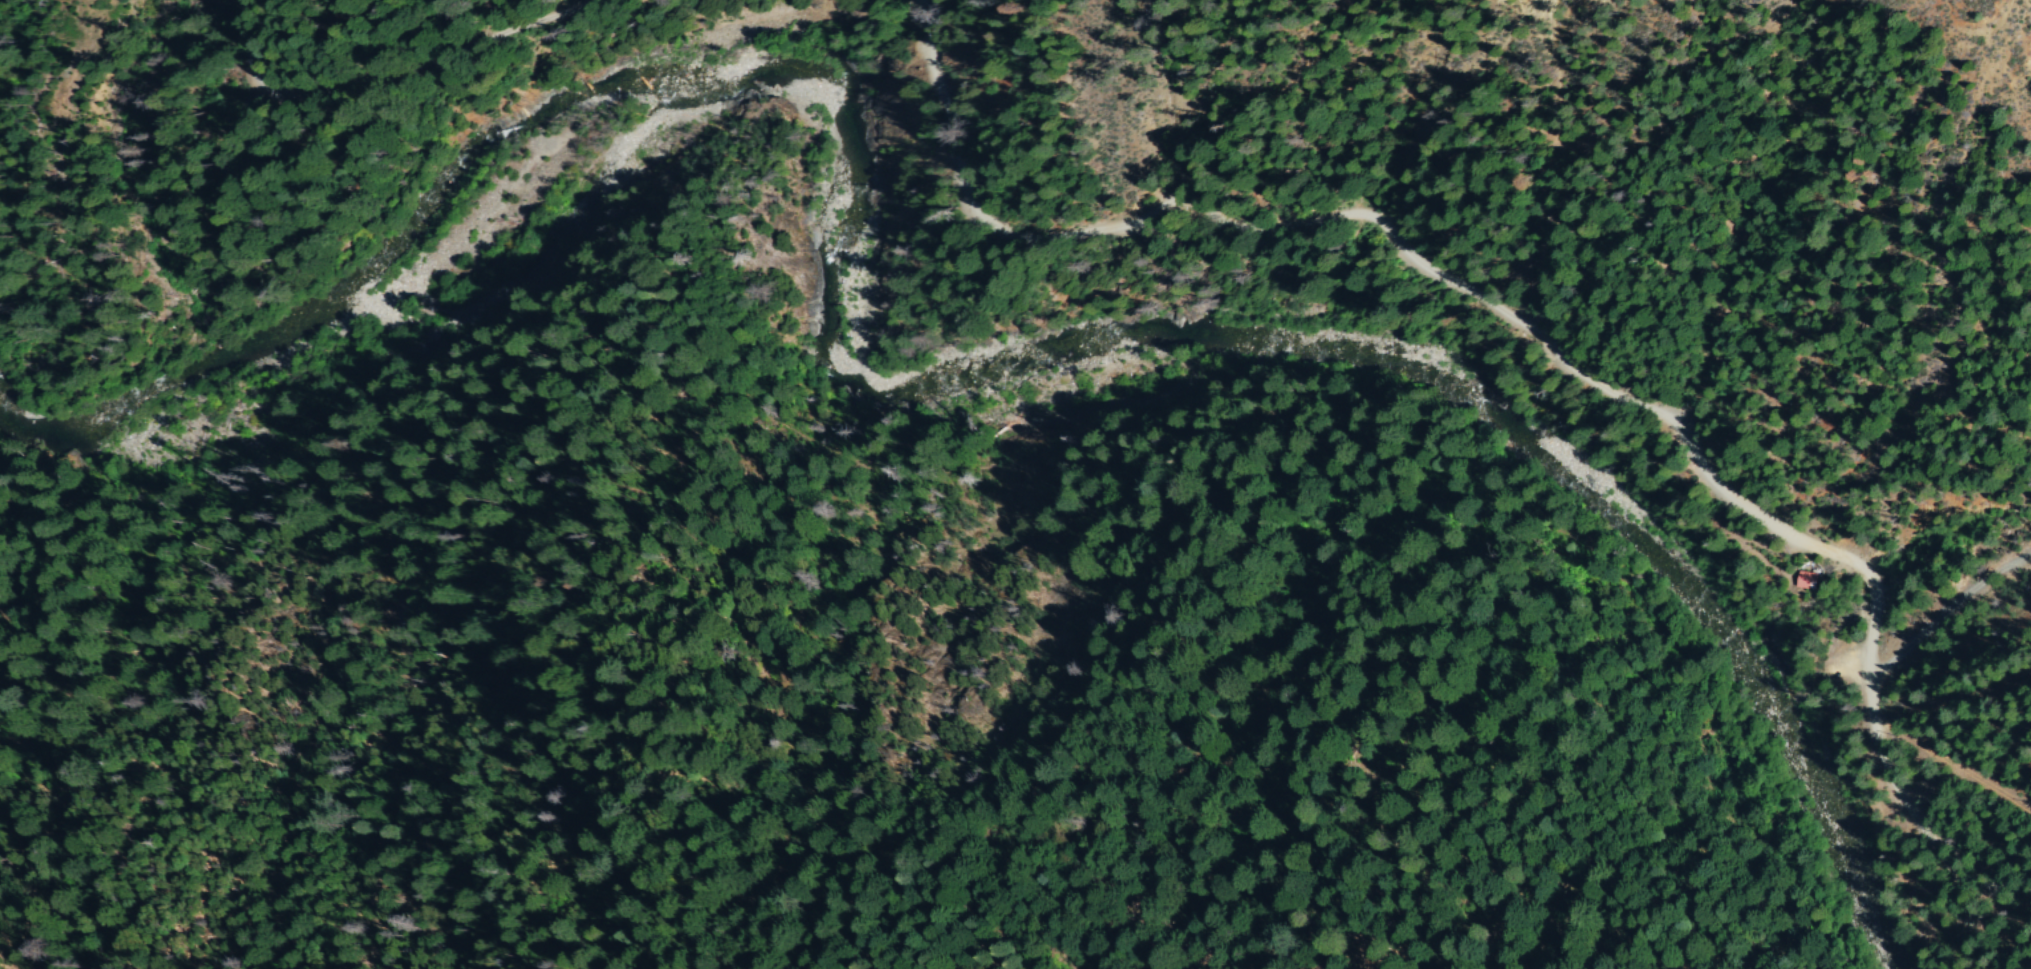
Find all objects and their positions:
road: (389, 72)
road: (1371, 216)
river: (898, 391)
building: (1808, 580)
road: (1873, 582)
road: (1946, 612)
road: (1894, 777)

